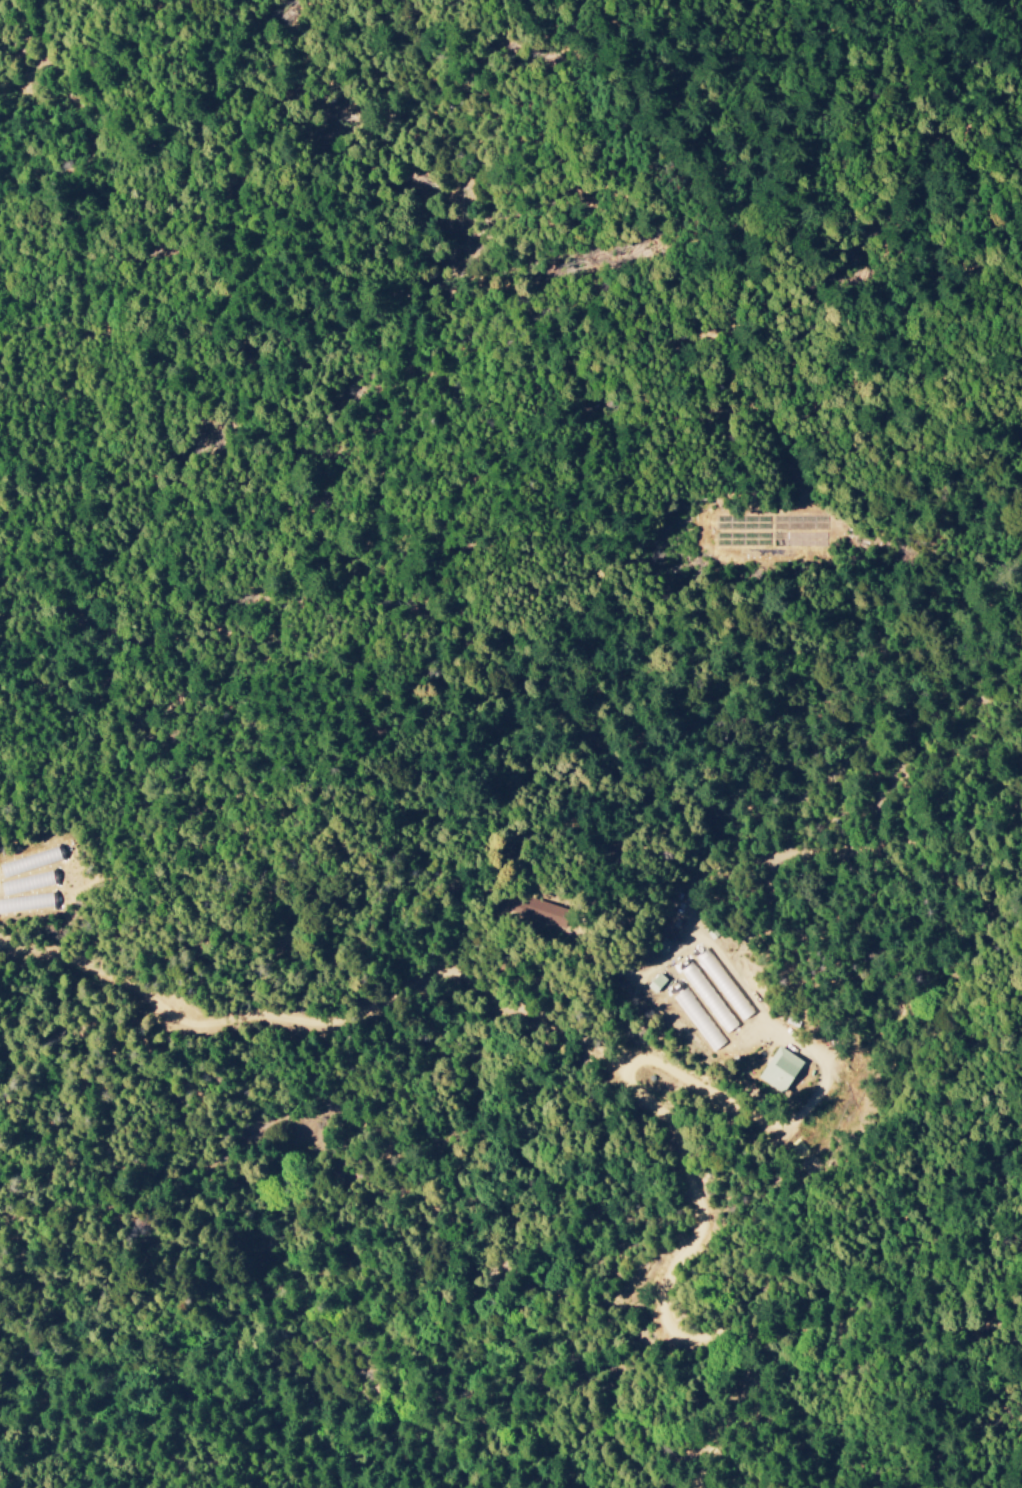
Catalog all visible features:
building: (659, 982)
building: (699, 1020)
building: (781, 1071)

